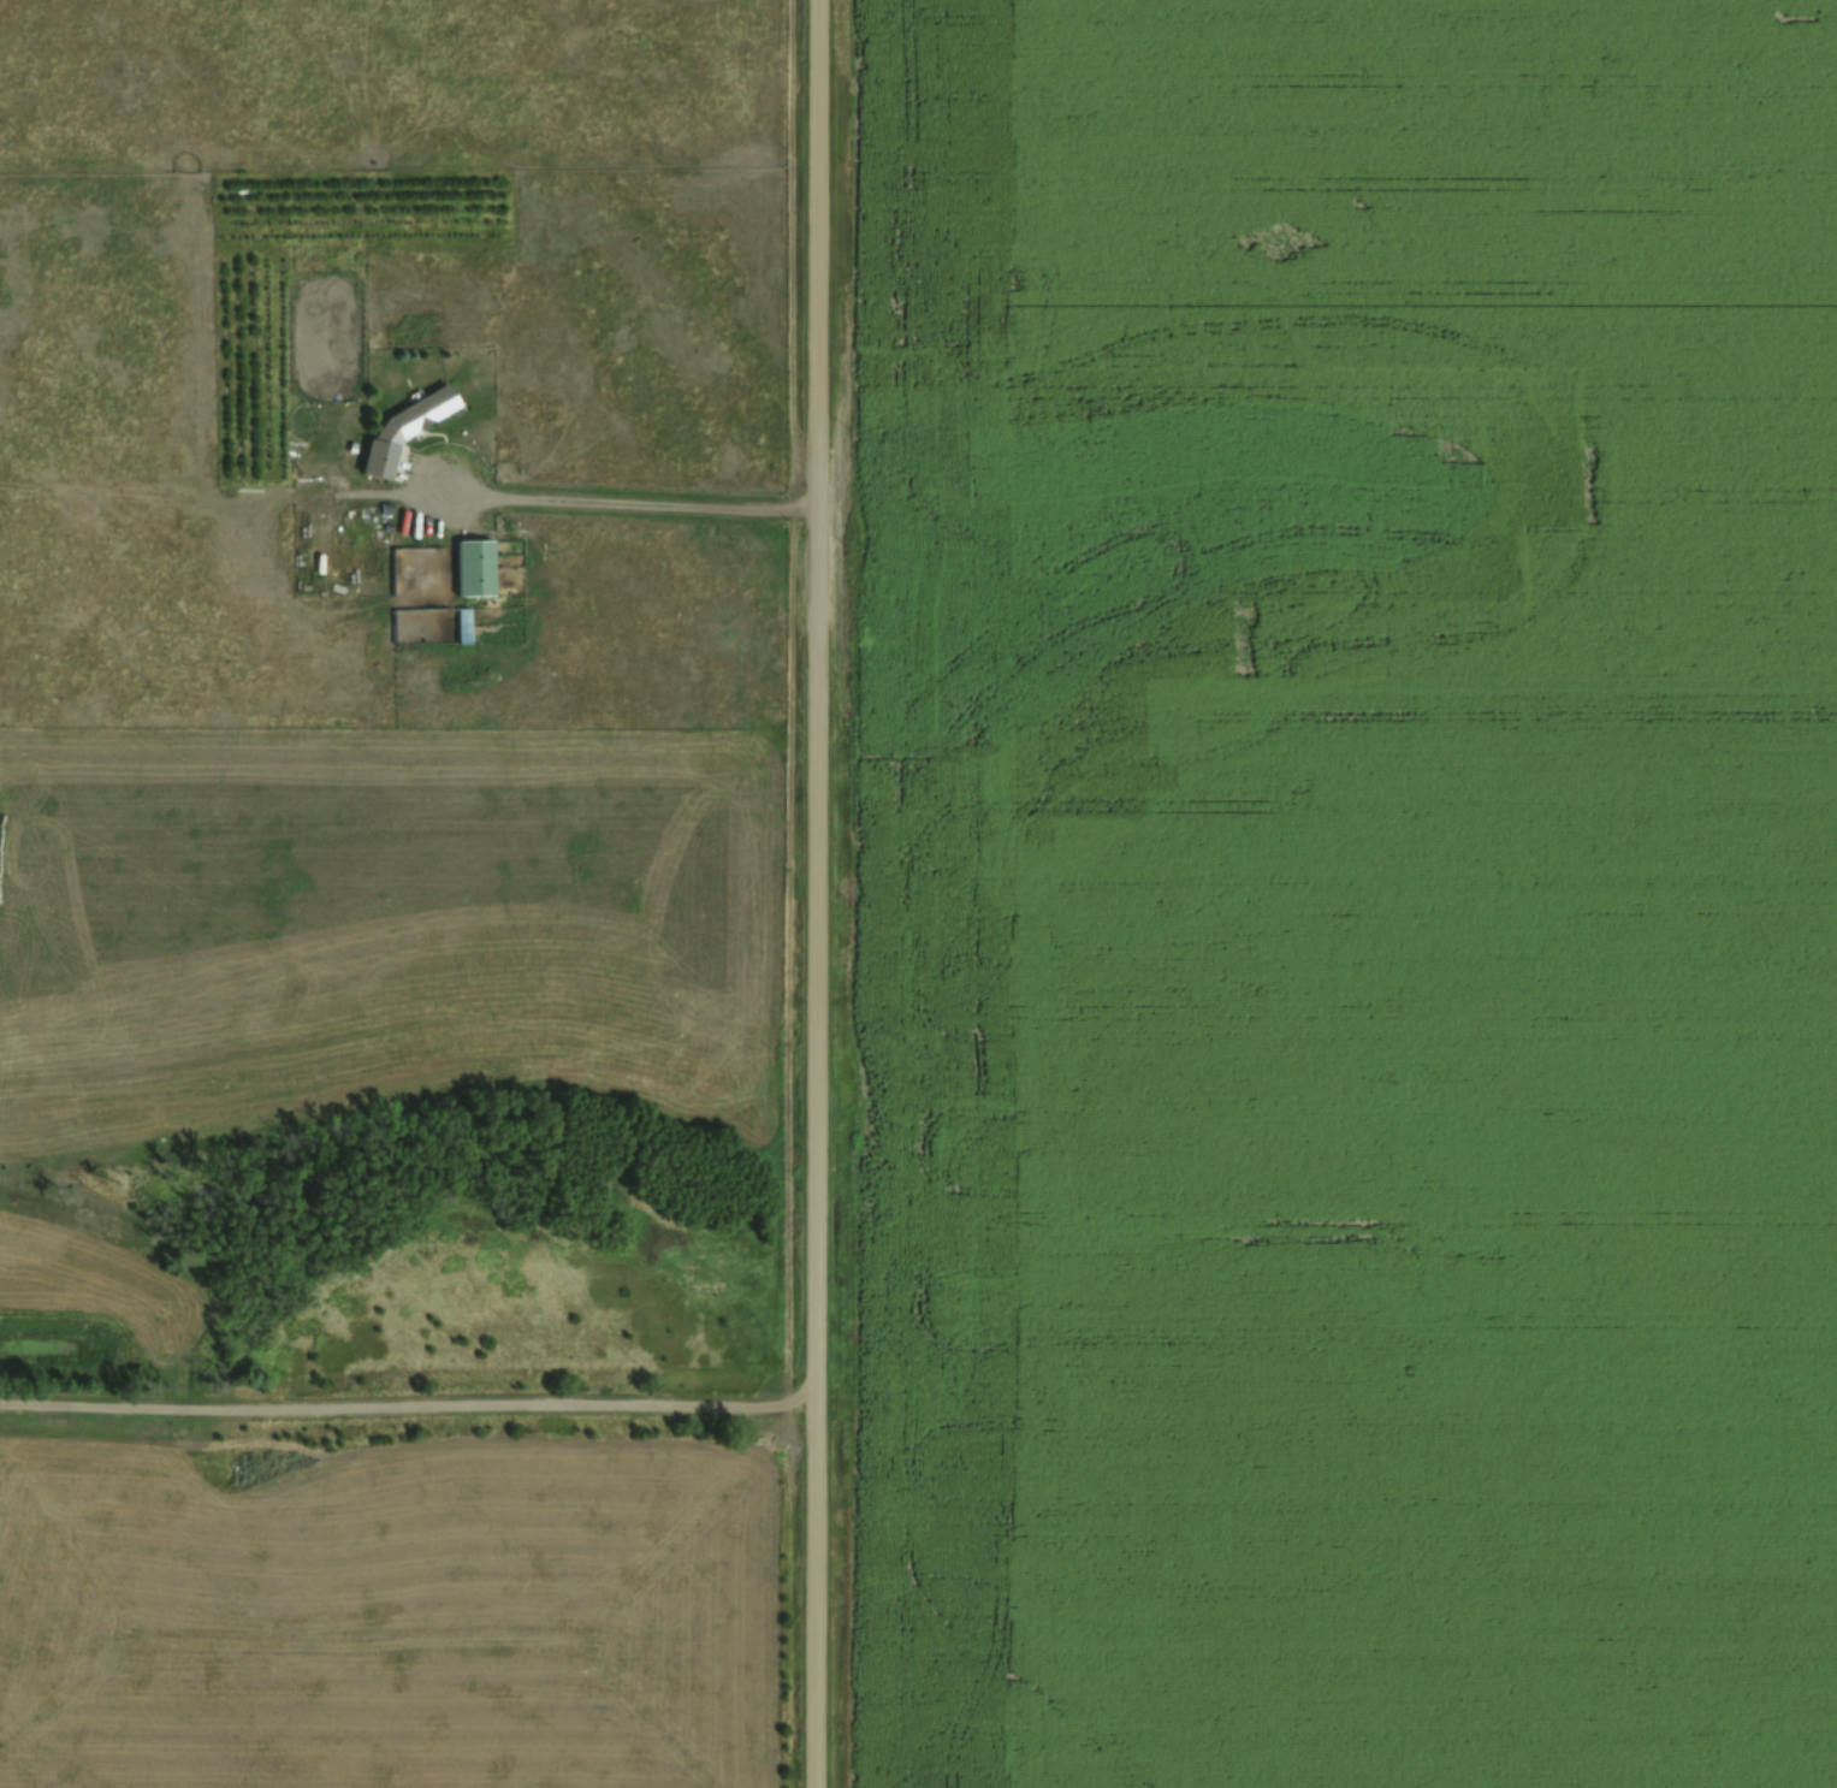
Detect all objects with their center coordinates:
building: (380, 360)
building: (407, 428)
building: (476, 567)
building: (464, 626)
road: (817, 894)
road: (408, 1432)

